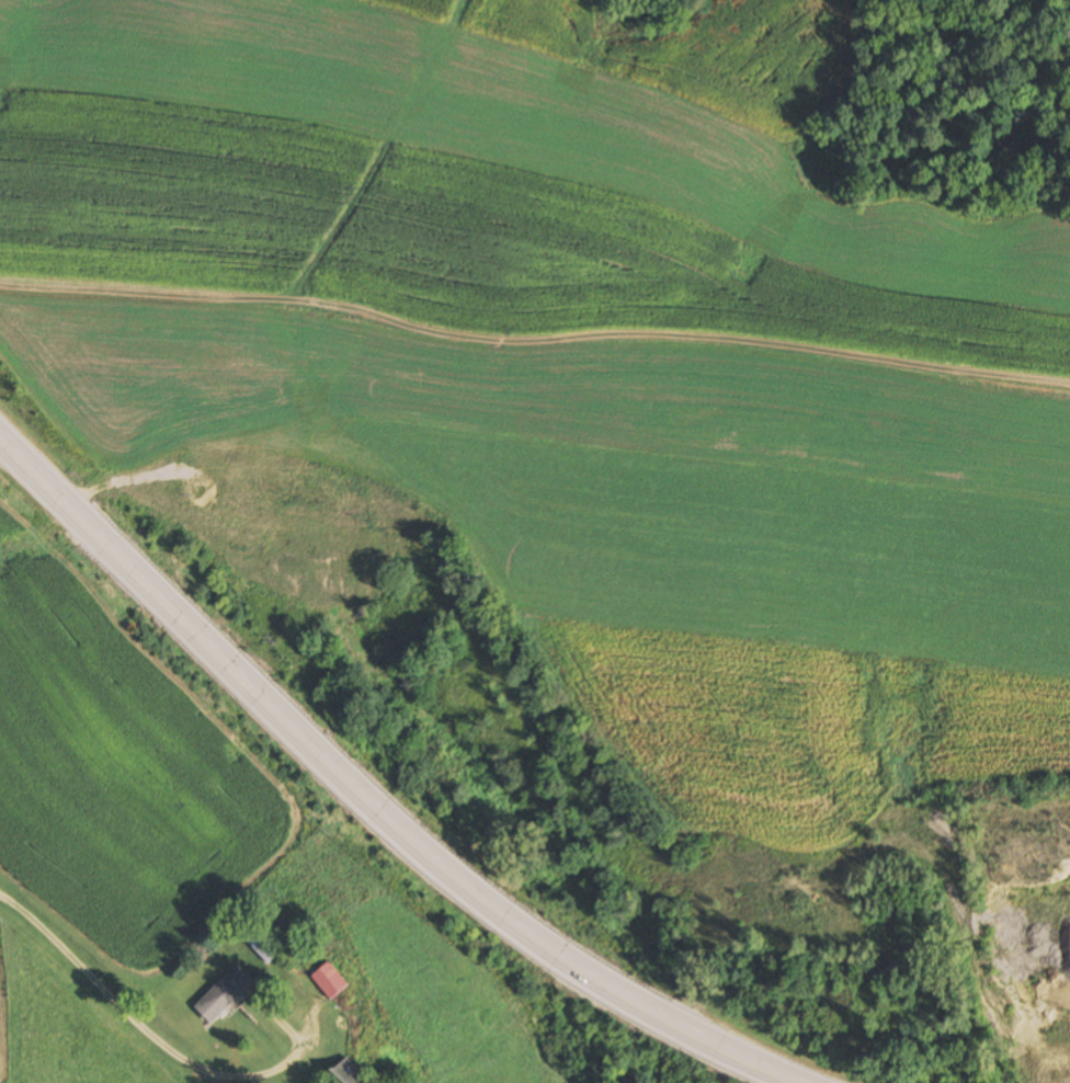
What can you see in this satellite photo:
road: (371, 803)
building: (263, 943)
building: (330, 980)
building: (224, 995)
road: (125, 1012)
building: (350, 1074)

